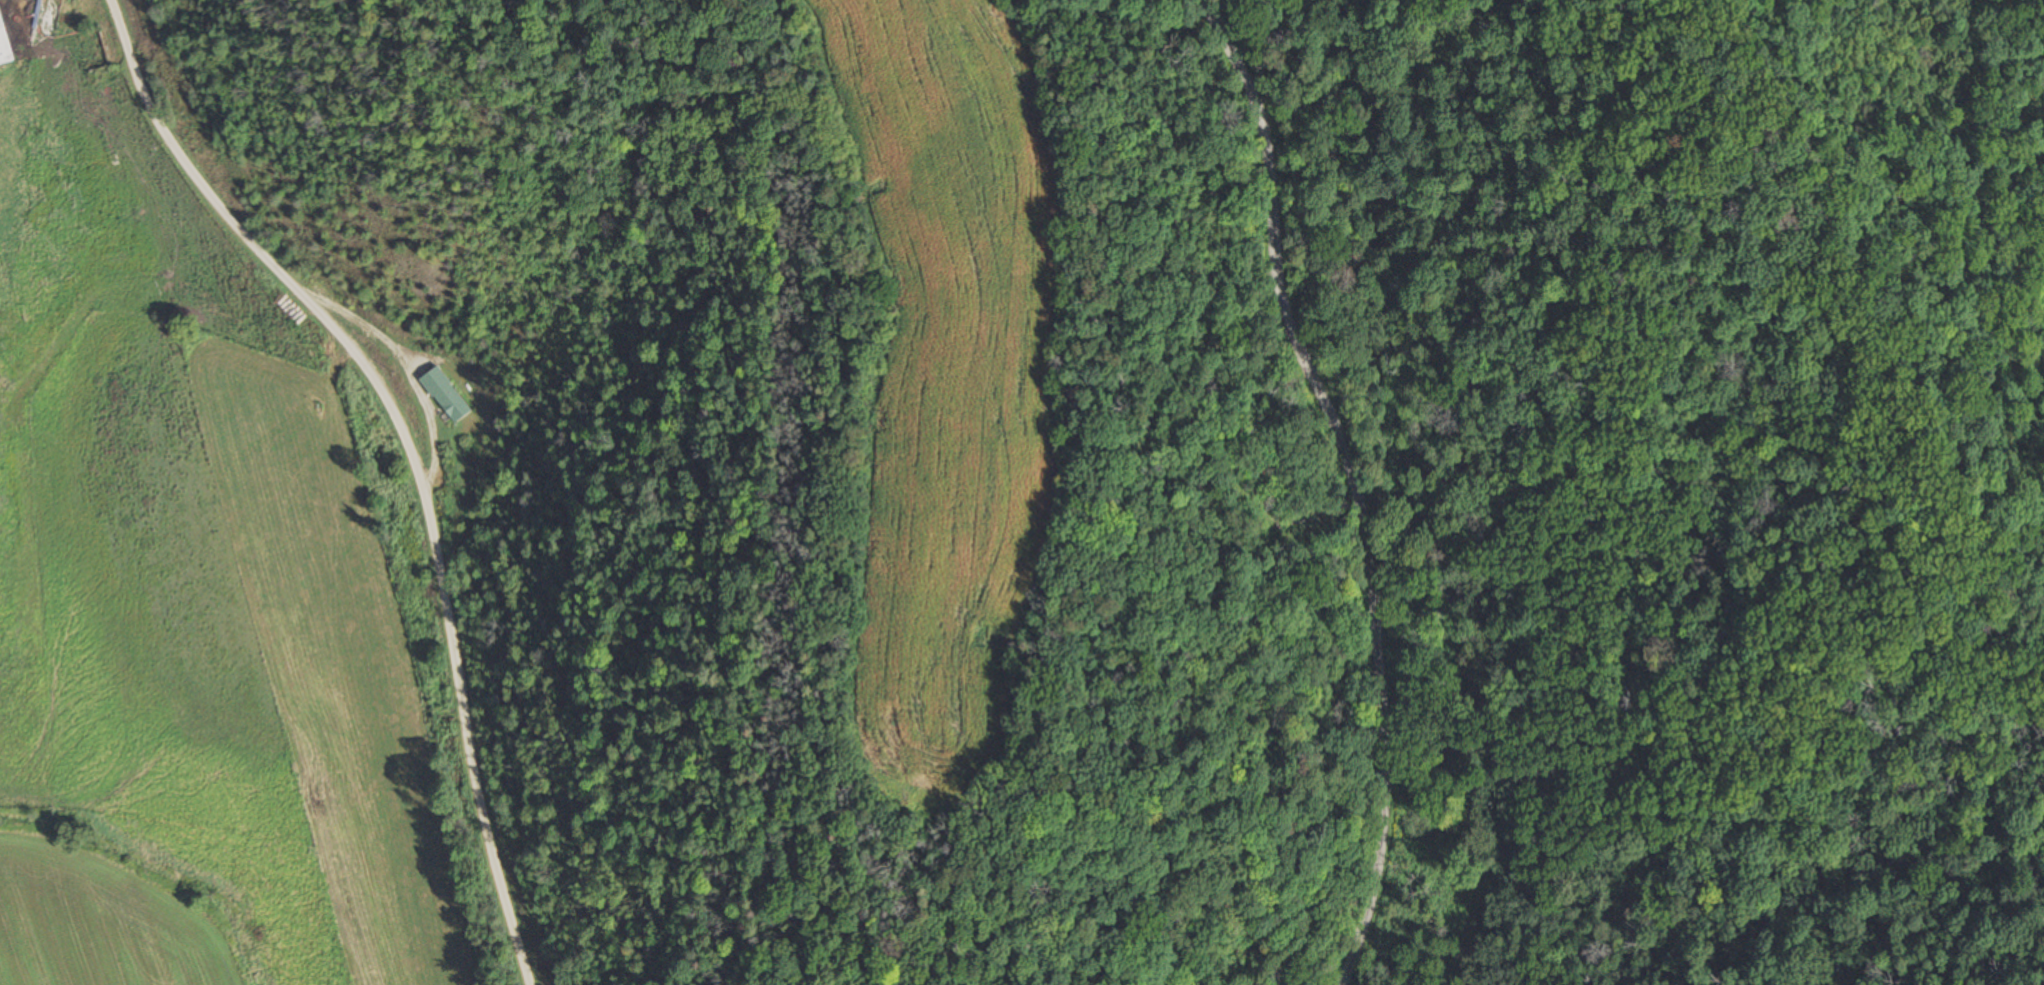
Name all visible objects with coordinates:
building: (3, 49)
building: (443, 395)
road: (413, 450)
road: (1368, 480)

